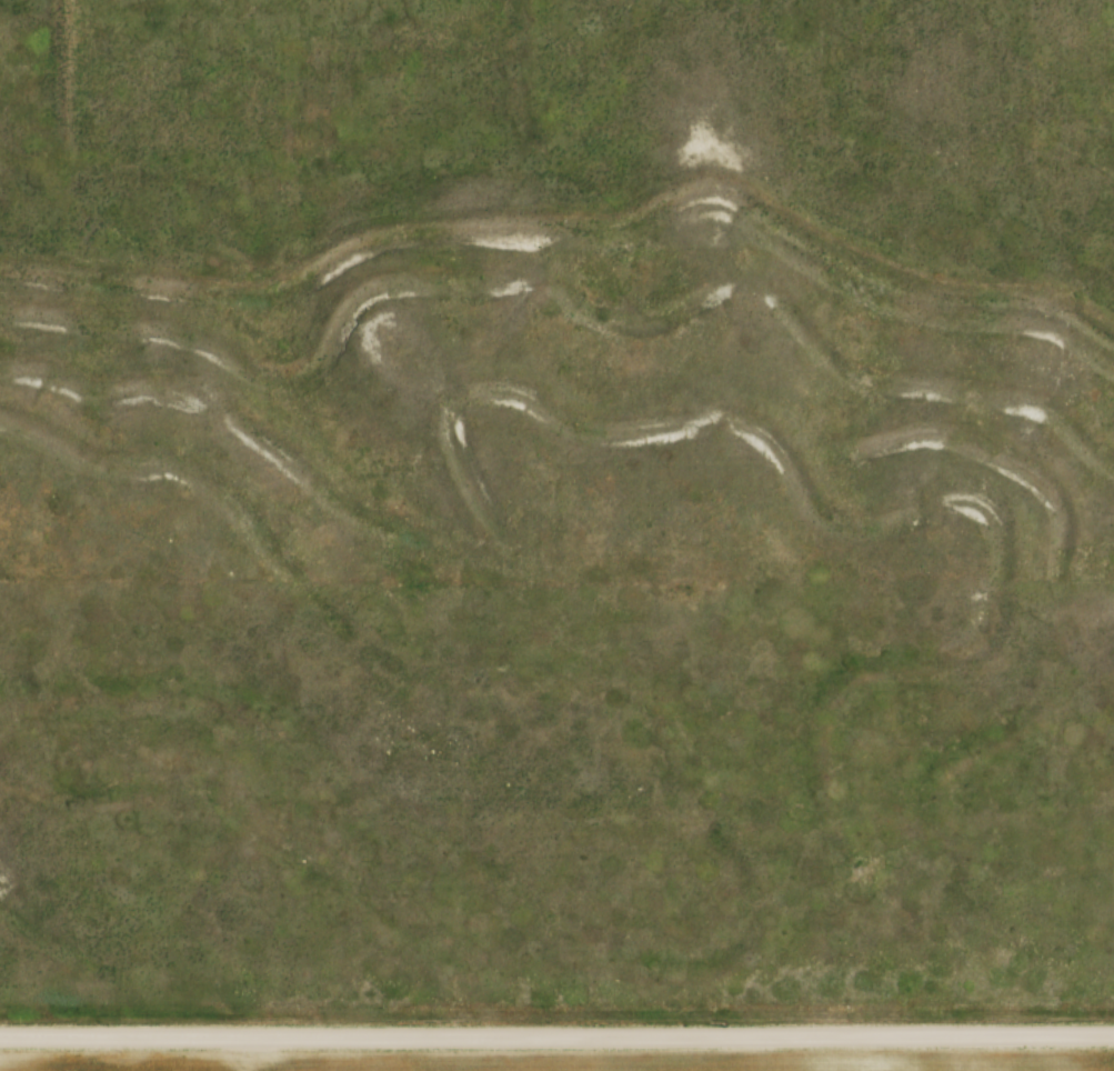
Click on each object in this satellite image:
road: (556, 1031)

